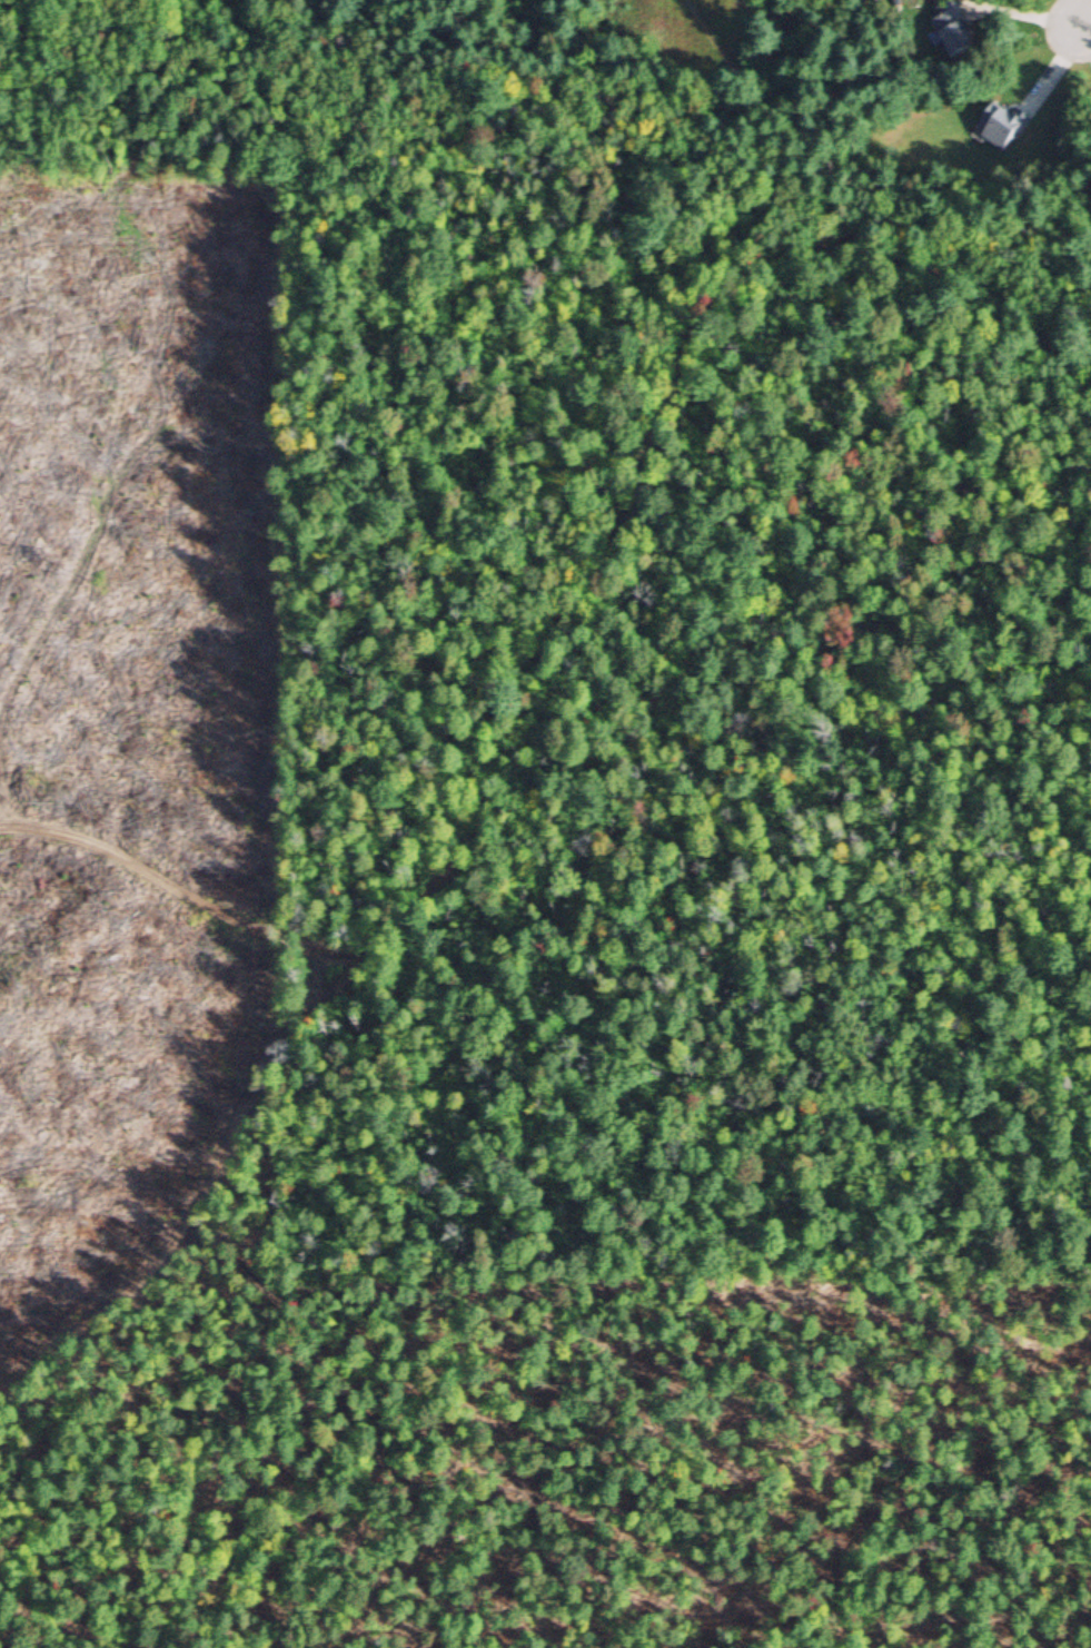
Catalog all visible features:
road: (1085, 14)
building: (948, 32)
road: (732, 58)
road: (687, 79)
building: (994, 134)
road: (656, 452)
road: (170, 880)
road: (185, 1192)

